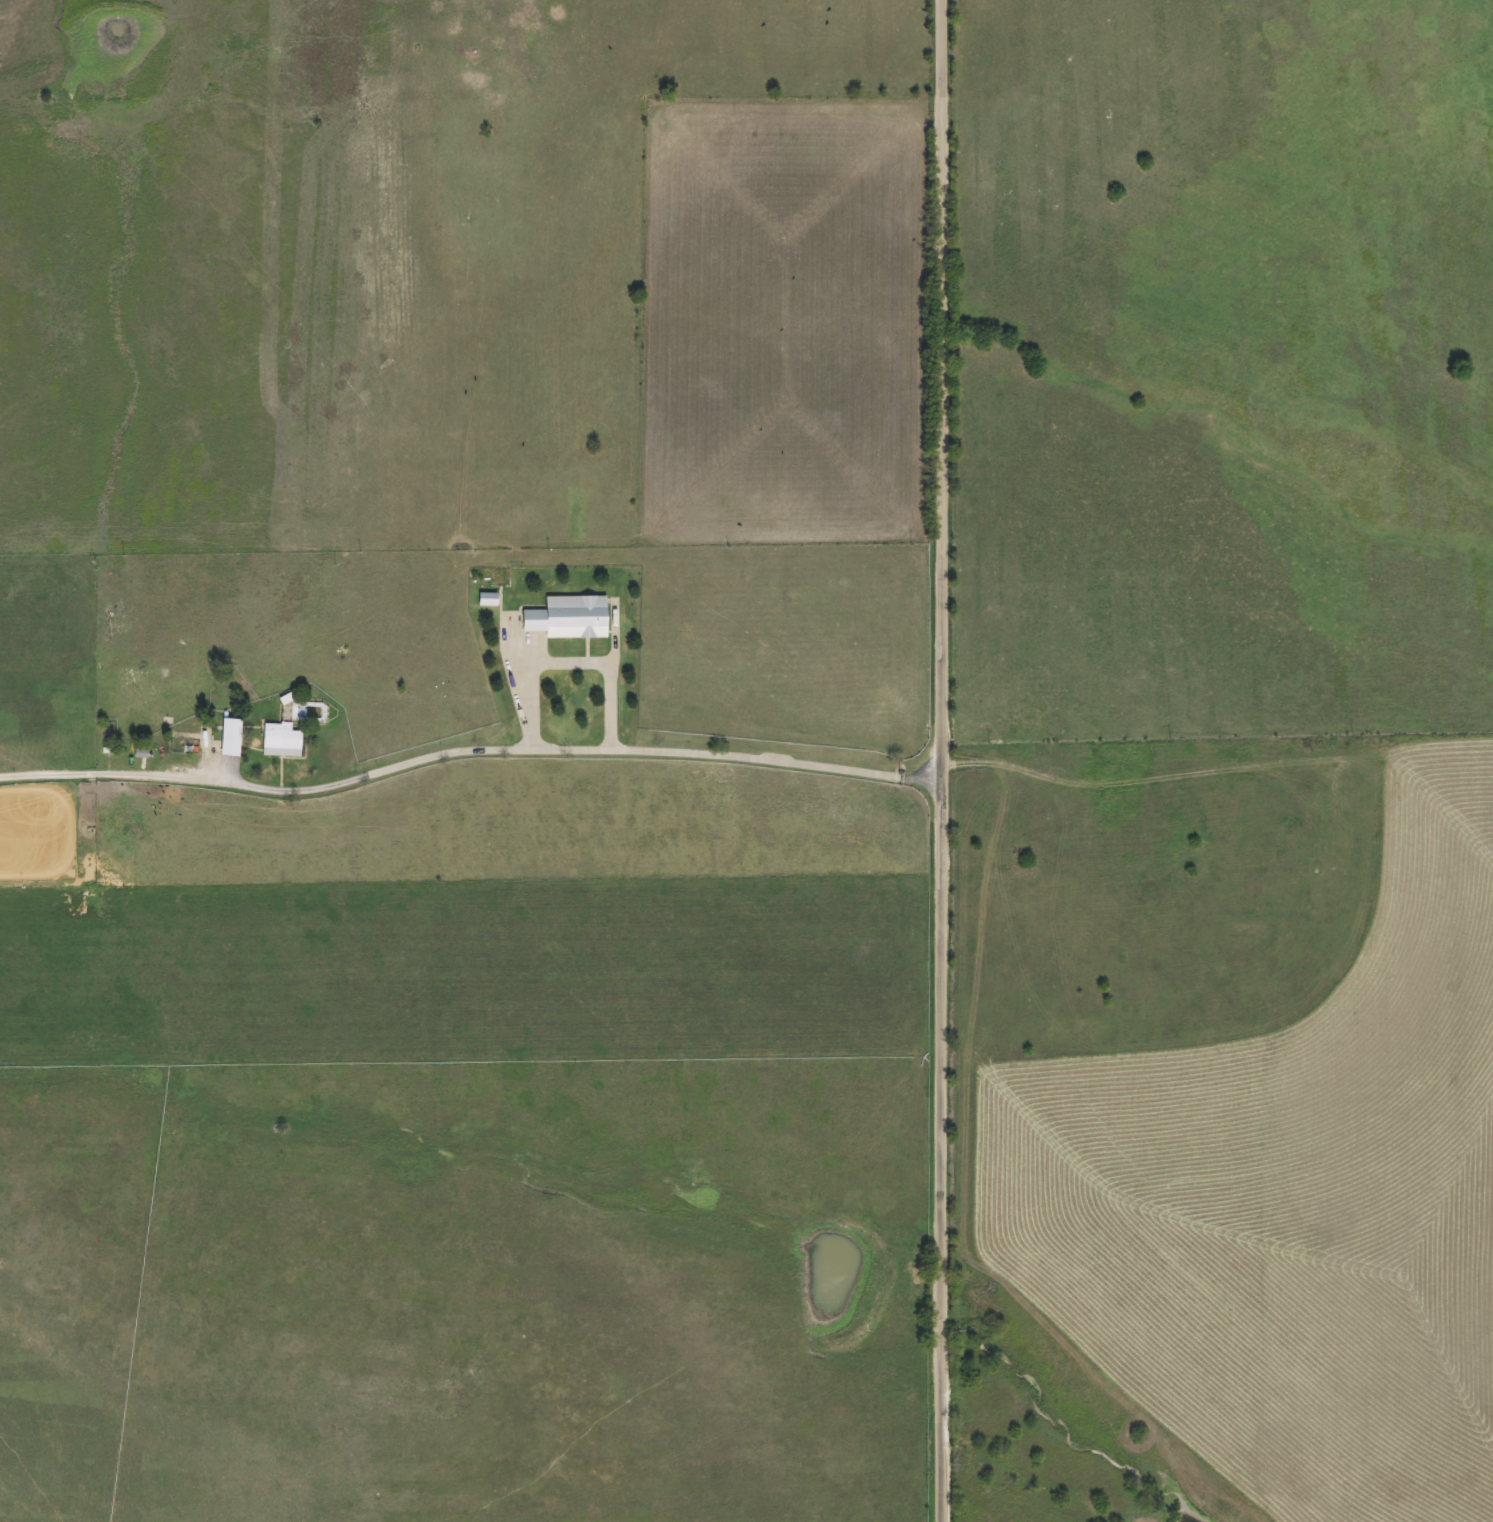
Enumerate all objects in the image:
building: (484, 600)
building: (565, 618)
road: (566, 660)
building: (229, 730)
road: (466, 740)
building: (278, 741)
road: (937, 761)
road: (489, 960)

